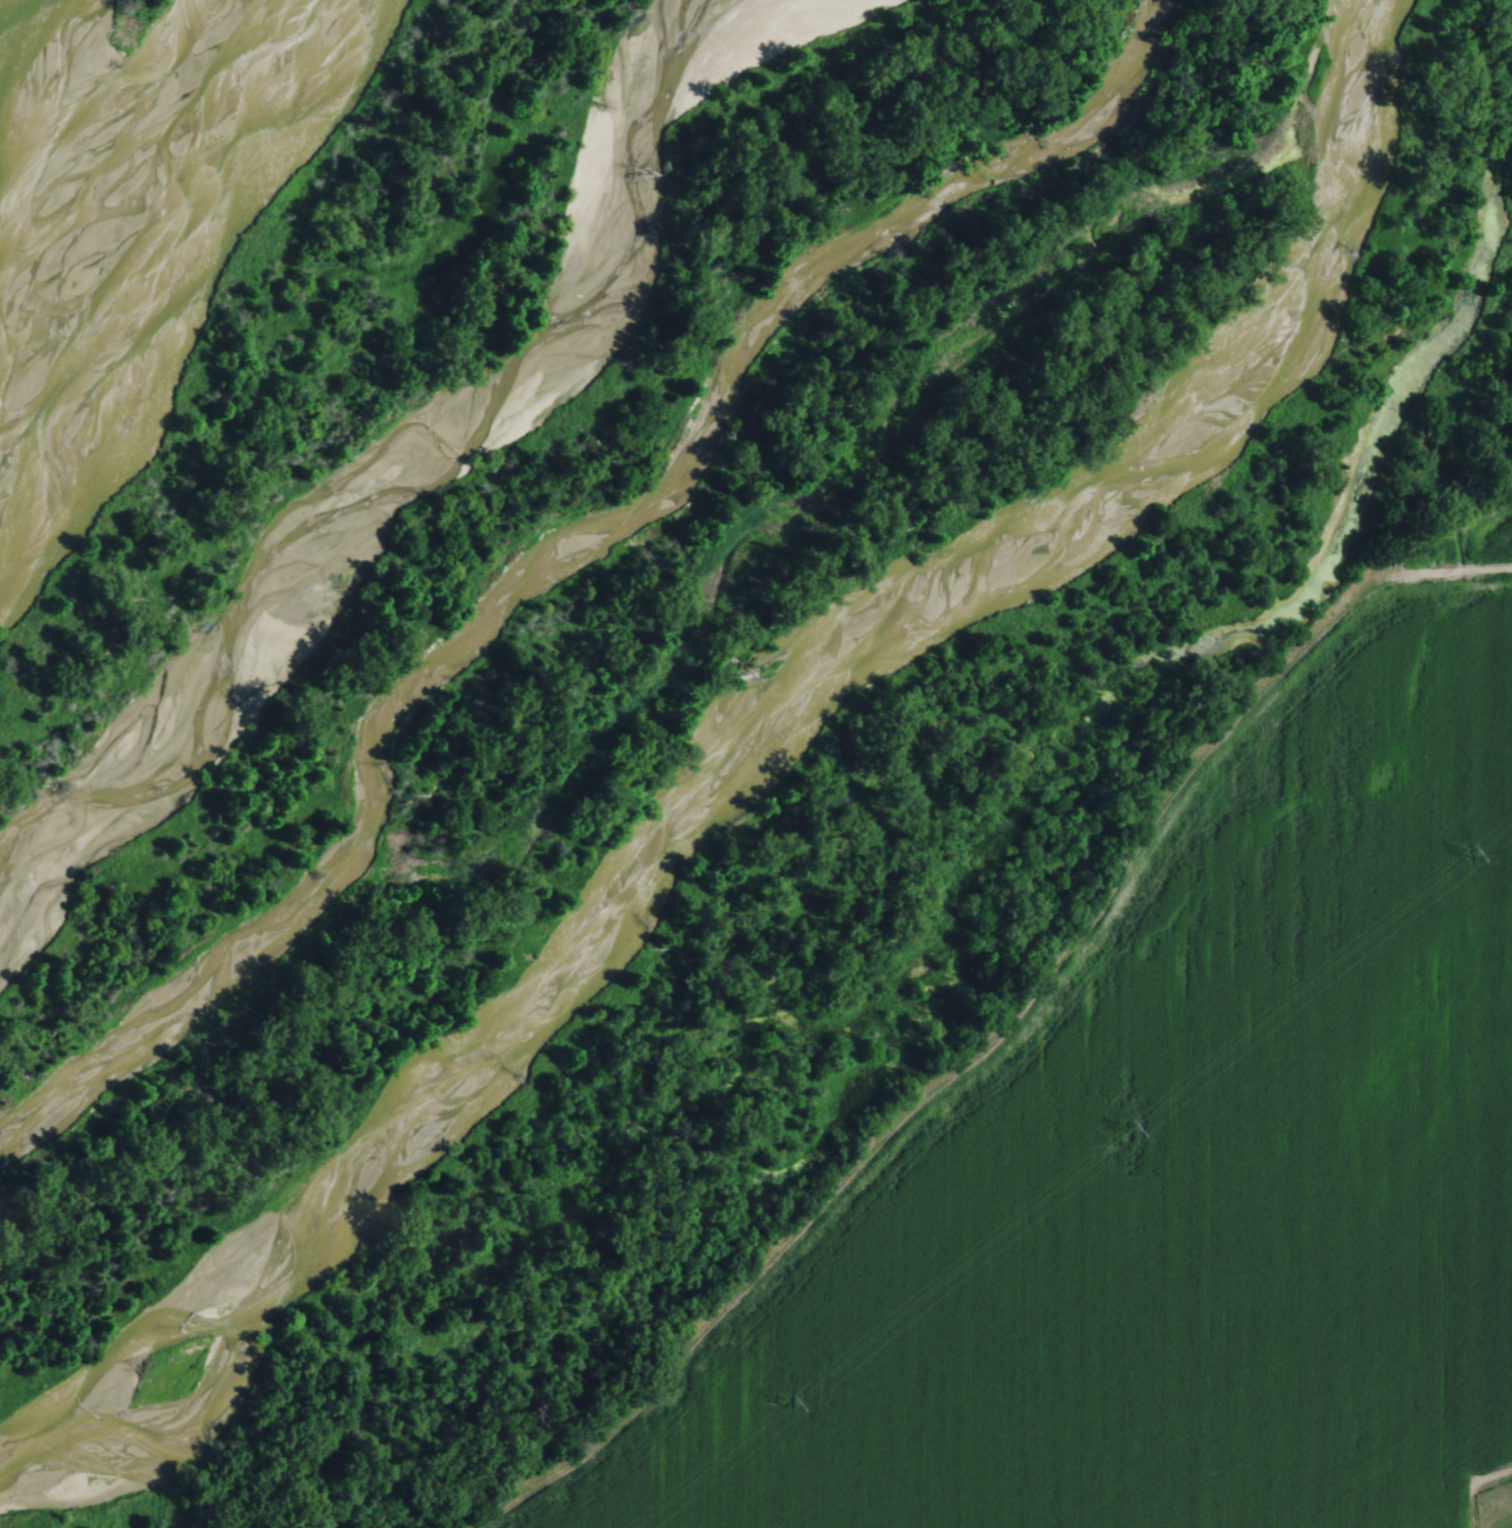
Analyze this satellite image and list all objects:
river: (23, 60)
power tower: (1467, 853)
road: (998, 1030)
power tower: (1126, 1128)
power tower: (785, 1400)

